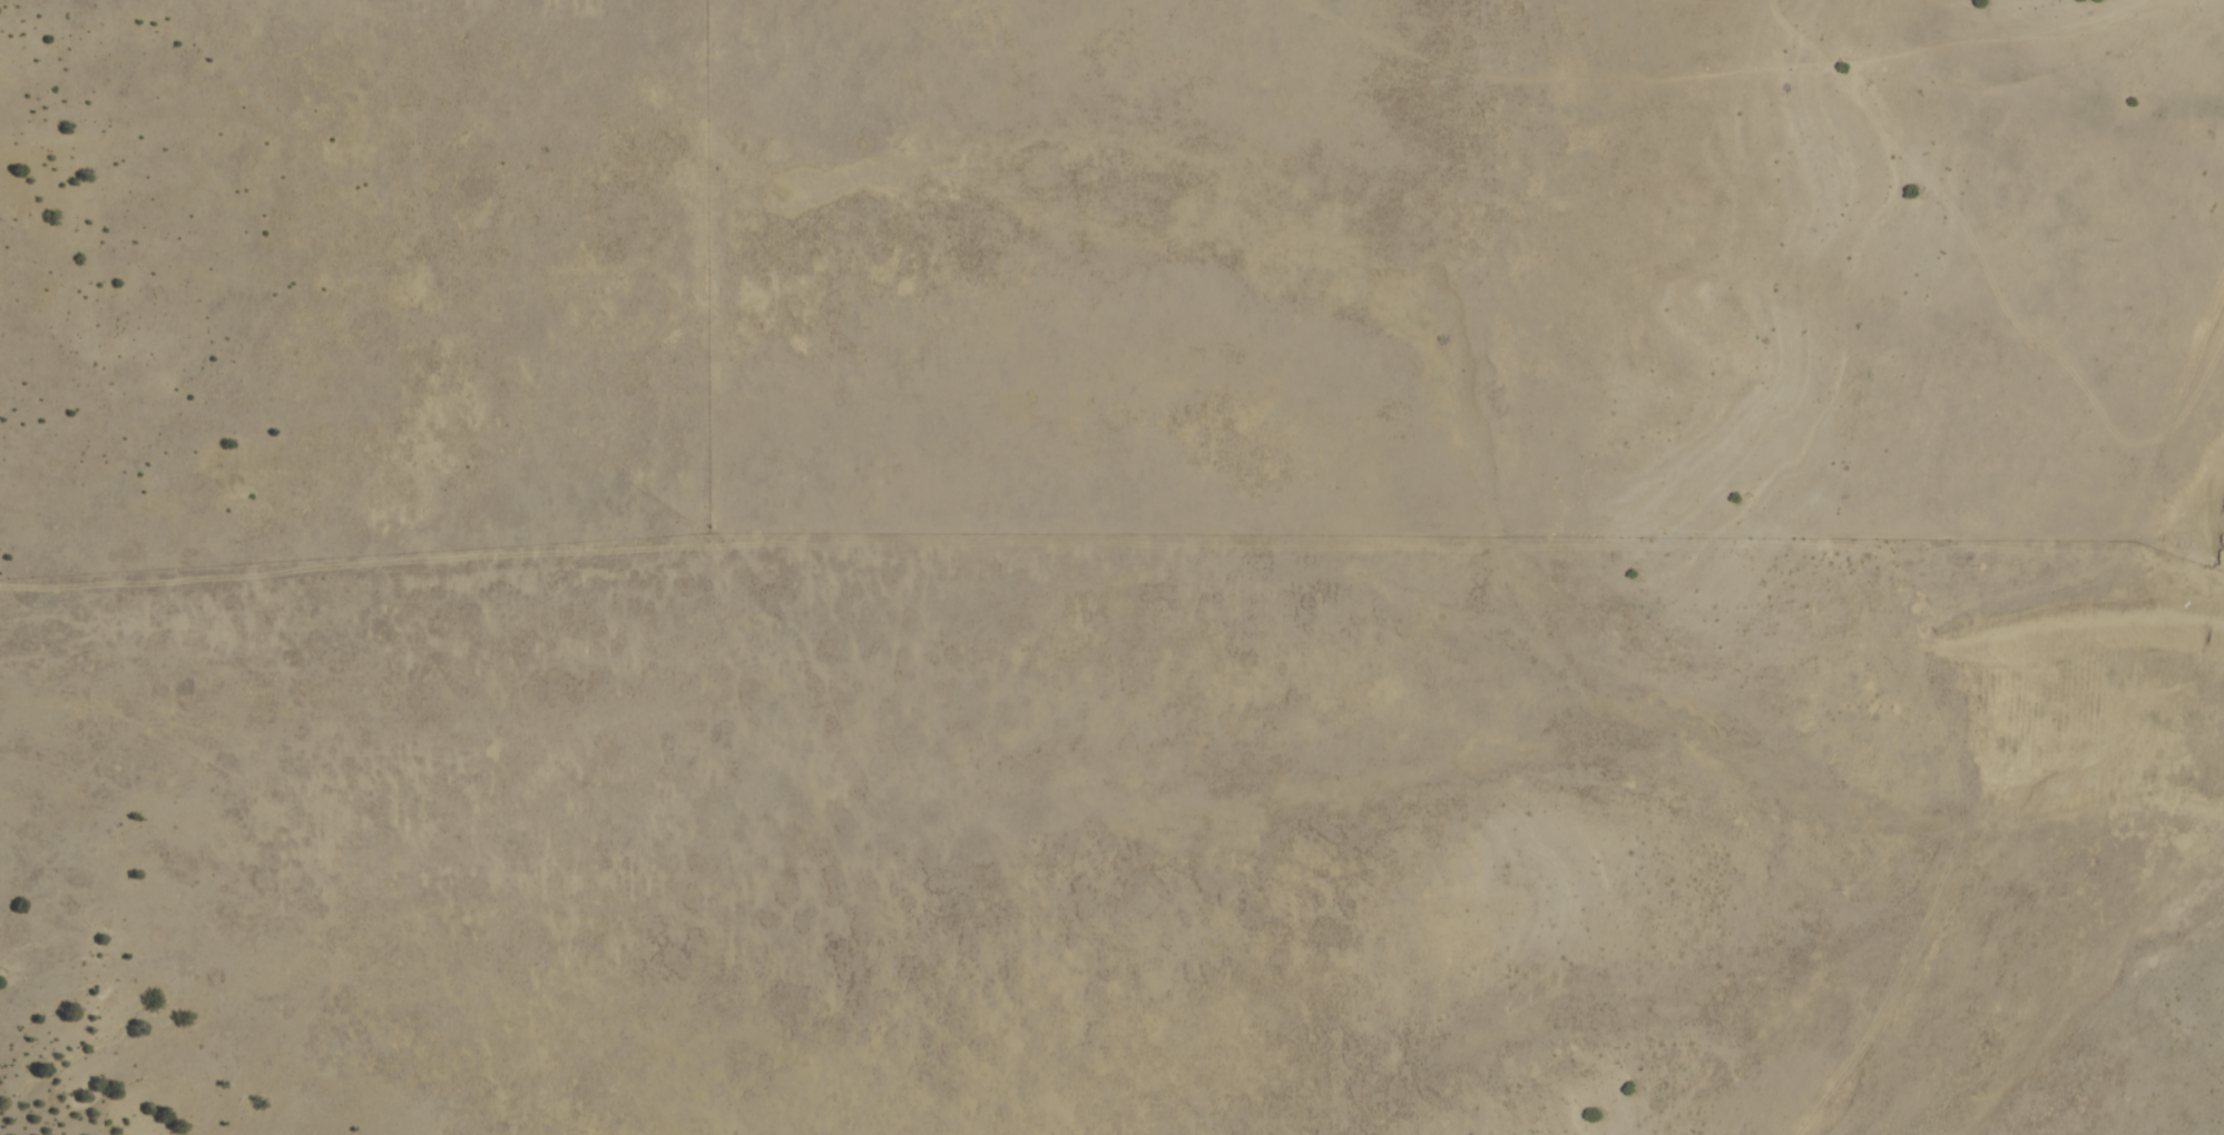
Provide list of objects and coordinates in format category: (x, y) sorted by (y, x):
road: (2000, 787)

